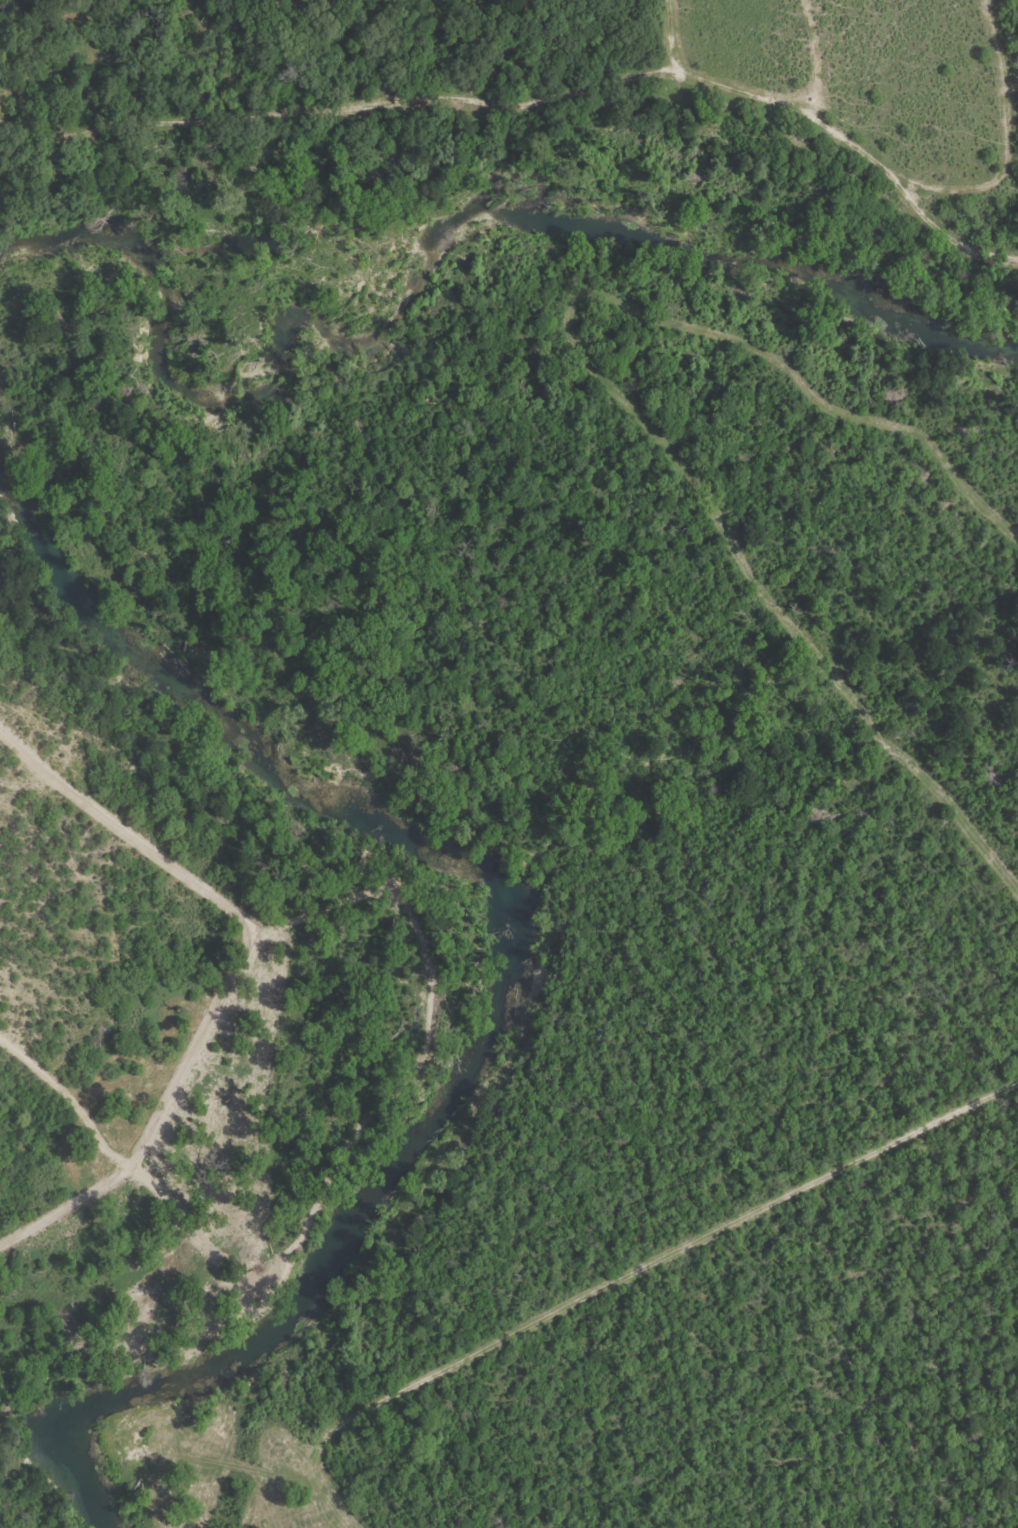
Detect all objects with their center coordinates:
road: (518, 66)
river: (442, 252)
river: (505, 993)
road: (9, 1044)
road: (619, 1280)

